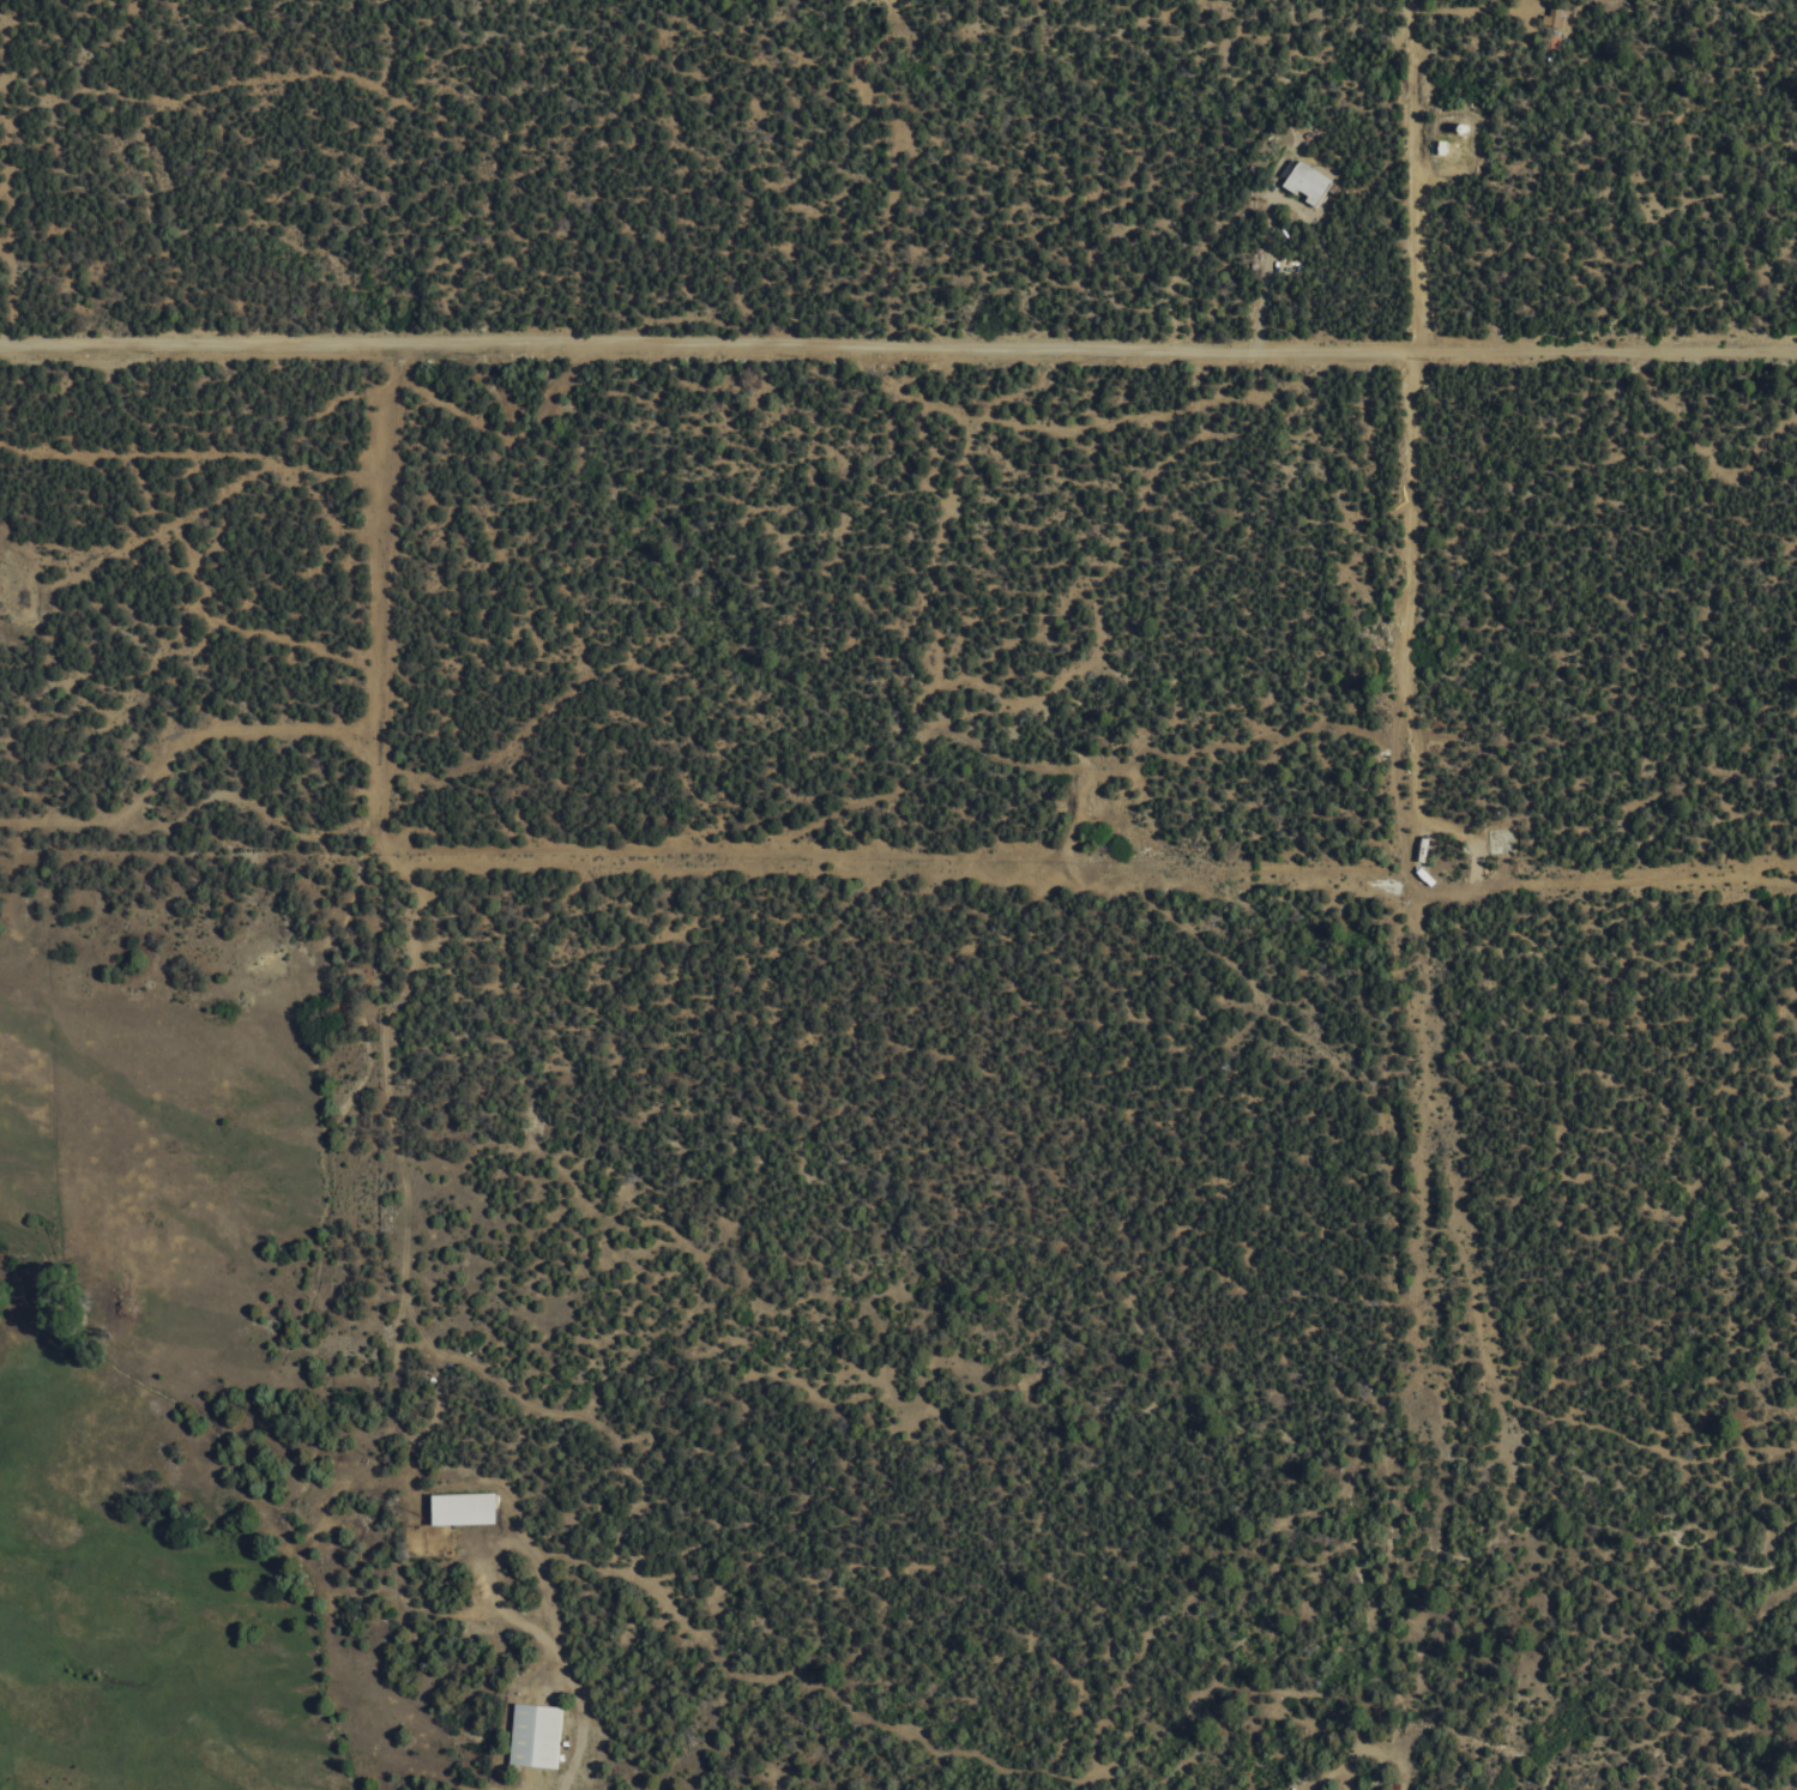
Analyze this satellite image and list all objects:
building: (1554, 18)
building: (1308, 181)
road: (1093, 469)
building: (468, 1507)
building: (539, 1735)
road: (1120, 1749)

